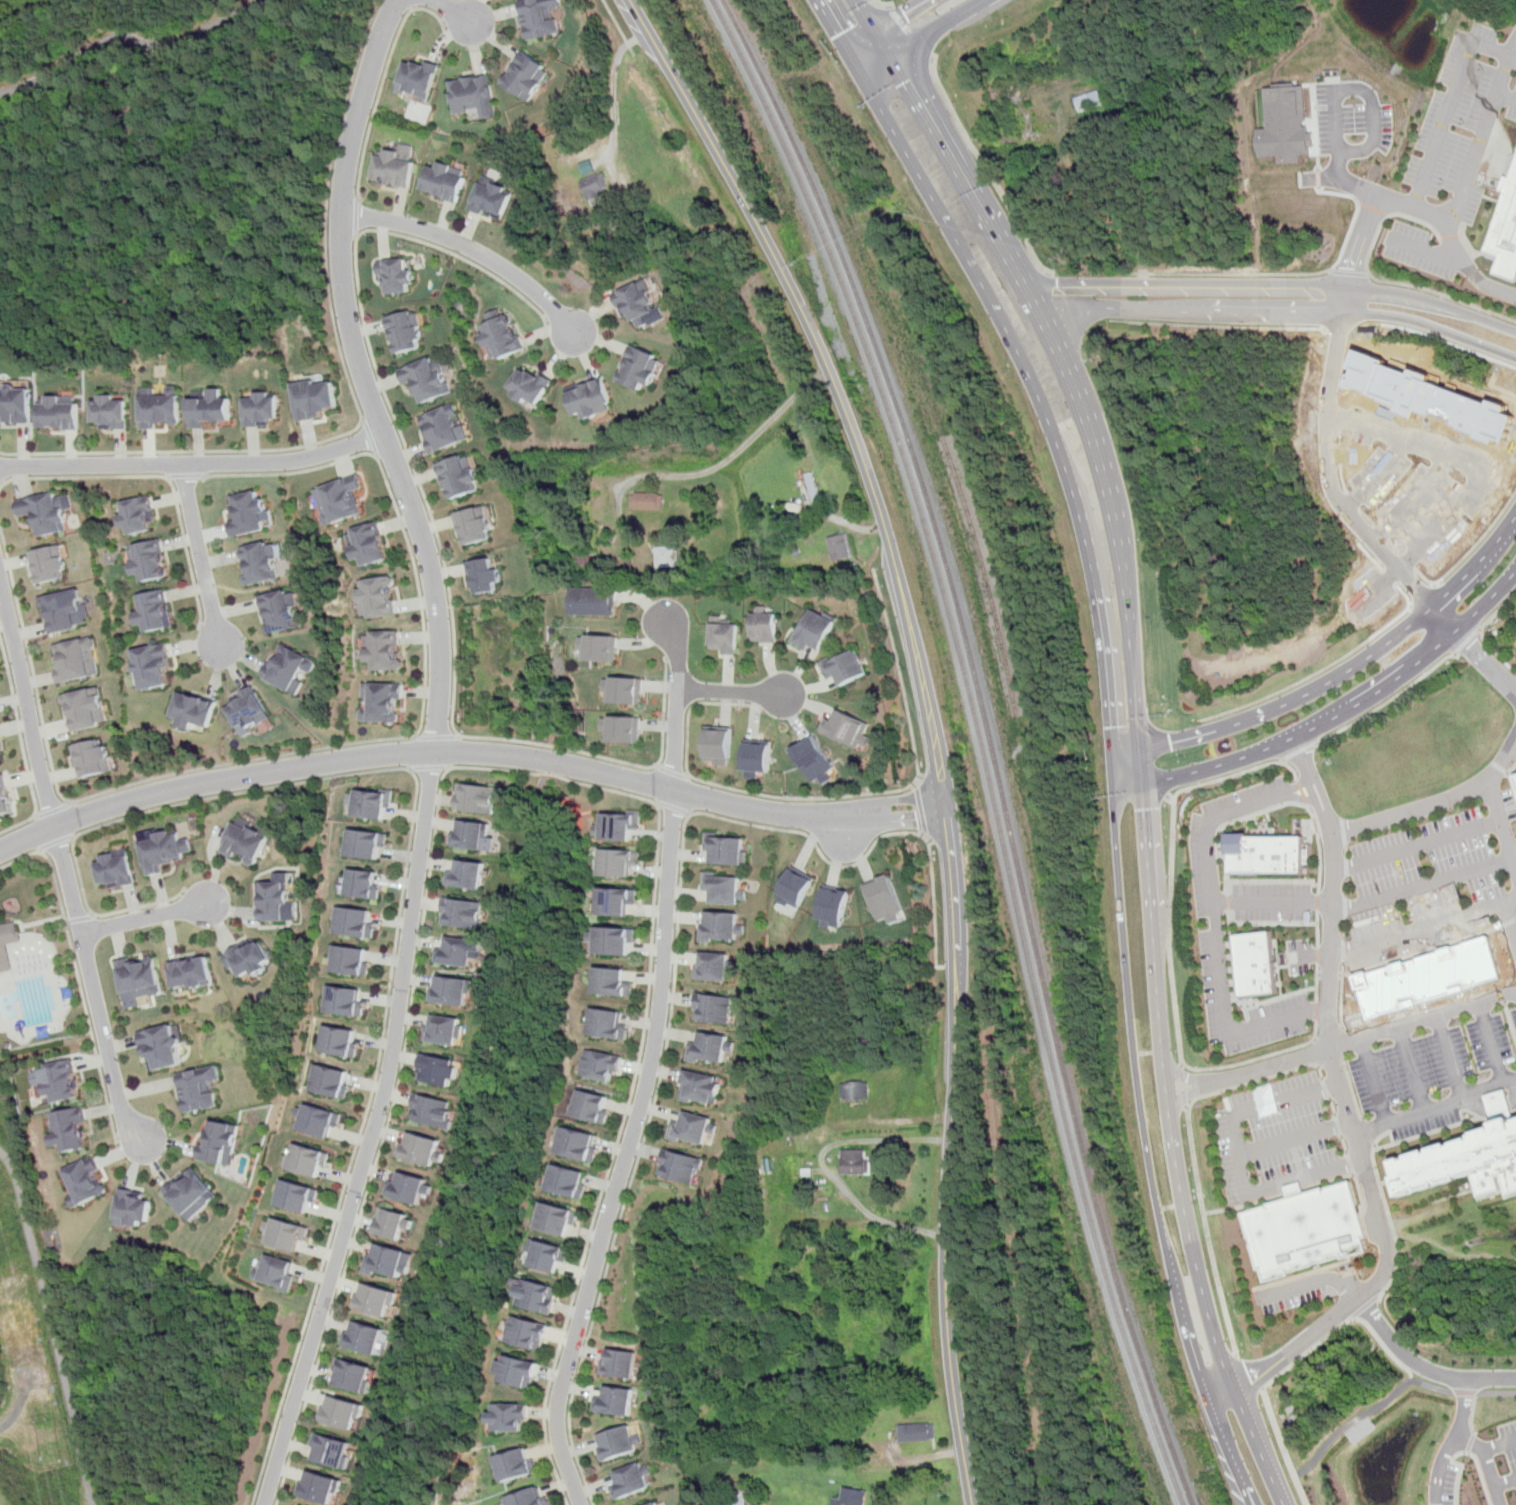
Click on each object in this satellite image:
road: (416, 4)
road: (880, 4)
road: (450, 11)
traffic signals: (904, 14)
road: (864, 15)
road: (900, 15)
building: (536, 18)
road: (618, 27)
road: (938, 28)
road: (836, 30)
road: (911, 33)
traffic signals: (839, 35)
road: (129, 37)
road: (881, 44)
road: (864, 45)
road: (1513, 47)
road: (1513, 52)
road: (871, 58)
road: (384, 73)
building: (519, 75)
building: (414, 78)
traffic signals: (904, 83)
road: (613, 91)
road: (1336, 94)
building: (470, 95)
road: (1449, 104)
parking lot: (1353, 120)
parking lot: (1464, 121)
building: (1285, 125)
building: (389, 168)
road: (986, 169)
road: (957, 173)
building: (439, 181)
building: (592, 183)
building: (486, 199)
road: (1458, 199)
road: (1355, 216)
road: (356, 217)
building: (1505, 231)
road: (1362, 238)
road: (1424, 249)
road: (473, 251)
parking lot: (1441, 260)
road: (1349, 273)
road: (1231, 274)
building: (394, 275)
road: (1192, 281)
road: (1383, 282)
road: (1032, 291)
road: (1433, 302)
building: (633, 305)
road: (1101, 307)
road: (1255, 310)
road: (1400, 326)
road: (1218, 327)
road: (1430, 327)
building: (404, 332)
building: (495, 339)
road: (1494, 356)
building: (634, 371)
building: (425, 380)
building: (525, 389)
road: (350, 390)
road: (1037, 396)
building: (312, 399)
building: (585, 400)
building: (16, 404)
building: (209, 409)
building: (159, 410)
building: (260, 410)
building: (111, 412)
building: (60, 414)
building: (442, 429)
road: (369, 436)
road: (393, 456)
road: (731, 459)
road: (192, 463)
road: (164, 464)
road: (290, 472)
building: (459, 475)
road: (159, 476)
road: (183, 476)
building: (812, 487)
building: (335, 500)
building: (645, 501)
road: (1113, 510)
building: (246, 514)
building: (40, 516)
building: (133, 516)
road: (433, 522)
building: (473, 527)
road: (1480, 539)
building: (839, 547)
building: (361, 548)
road: (198, 551)
building: (664, 556)
building: (141, 563)
building: (259, 564)
building: (48, 565)
building: (484, 574)
railway: (986, 576)
building: (376, 598)
building: (593, 603)
building: (63, 612)
building: (277, 612)
building: (147, 613)
road: (1449, 620)
building: (761, 628)
building: (810, 632)
road: (1482, 633)
building: (723, 640)
road: (1468, 641)
building: (599, 648)
building: (378, 653)
building: (75, 661)
road: (1488, 662)
road: (1349, 667)
road: (1415, 667)
building: (145, 668)
building: (843, 670)
building: (285, 671)
road: (900, 676)
road: (1296, 684)
building: (625, 690)
road: (733, 692)
road: (1388, 702)
building: (376, 705)
building: (86, 709)
building: (242, 713)
building: (188, 714)
road: (931, 721)
traffic signals: (1112, 727)
building: (623, 728)
building: (848, 729)
road: (436, 737)
railway: (981, 741)
railway: (991, 741)
traffic signals: (1170, 744)
building: (718, 746)
road: (25, 747)
road: (433, 750)
road: (469, 752)
road: (1300, 752)
road: (1300, 755)
building: (756, 757)
building: (0, 758)
building: (93, 758)
road: (1127, 758)
building: (815, 760)
road: (244, 761)
road: (1220, 764)
road: (1141, 765)
road: (429, 767)
road: (672, 772)
road: (1238, 773)
road: (535, 774)
road: (1307, 775)
road: (1128, 776)
building: (1515, 778)
road: (1296, 785)
road: (732, 789)
road: (1308, 789)
road: (1320, 791)
road: (1299, 796)
building: (5, 798)
building: (475, 798)
building: (375, 803)
road: (1434, 805)
road: (674, 807)
road: (54, 809)
road: (1268, 809)
road: (1316, 809)
traffic signals: (1144, 810)
road: (921, 811)
road: (1315, 825)
road: (1328, 826)
building: (625, 828)
road: (1503, 828)
building: (475, 836)
building: (251, 840)
road: (55, 842)
building: (369, 843)
road: (1419, 846)
building: (169, 850)
building: (722, 854)
building: (1265, 854)
road: (19, 858)
building: (625, 863)
road: (1320, 863)
road: (64, 866)
building: (122, 870)
building: (472, 875)
road: (403, 882)
parking lot: (1433, 883)
building: (367, 884)
building: (794, 887)
road: (1423, 887)
building: (720, 892)
building: (884, 899)
building: (280, 901)
road: (1318, 901)
road: (1274, 902)
building: (626, 903)
building: (833, 905)
building: (467, 914)
parking lot: (1273, 915)
road: (144, 918)
road: (1509, 918)
road: (79, 919)
building: (358, 922)
road: (1318, 927)
road: (1344, 929)
building: (716, 930)
road: (1419, 931)
road: (1170, 933)
road: (1217, 937)
building: (624, 941)
building: (9, 947)
road: (1343, 950)
road: (1419, 951)
building: (463, 952)
road: (1318, 954)
road: (1310, 955)
building: (256, 959)
building: (354, 960)
building: (1256, 964)
road: (674, 968)
building: (711, 971)
building: (197, 972)
road: (1328, 975)
building: (139, 978)
building: (1430, 979)
road: (1317, 981)
building: (619, 983)
building: (458, 992)
road: (1341, 995)
road: (83, 1002)
building: (350, 1003)
road: (1317, 1010)
building: (709, 1011)
building: (613, 1025)
building: (448, 1032)
road: (1363, 1040)
building: (343, 1042)
road: (1494, 1045)
building: (162, 1046)
building: (708, 1051)
road: (1258, 1057)
road: (1452, 1059)
building: (608, 1064)
parking lot: (1433, 1064)
road: (648, 1068)
building: (444, 1071)
road: (1413, 1071)
road: (1184, 1079)
road: (1257, 1081)
building: (66, 1082)
building: (333, 1082)
road: (1375, 1083)
road: (1182, 1086)
road: (1164, 1087)
building: (204, 1091)
building: (853, 1091)
building: (696, 1092)
road: (1187, 1096)
building: (598, 1108)
road: (1492, 1108)
road: (1435, 1109)
building: (436, 1112)
building: (324, 1122)
building: (74, 1132)
building: (689, 1133)
parking lot: (1273, 1136)
road: (1295, 1139)
road: (1147, 1143)
building: (227, 1145)
building: (584, 1145)
building: (421, 1148)
road: (1241, 1159)
building: (1467, 1159)
building: (310, 1163)
building: (854, 1164)
road: (1362, 1165)
road: (825, 1168)
building: (677, 1172)
building: (578, 1183)
building: (89, 1184)
building: (1295, 1189)
building: (415, 1190)
road: (1296, 1190)
building: (193, 1196)
building: (300, 1198)
building: (135, 1212)
building: (565, 1222)
building: (402, 1225)
building: (1306, 1230)
road: (1207, 1232)
building: (288, 1237)
road: (1449, 1249)
building: (557, 1260)
building: (394, 1264)
road: (1397, 1269)
building: (279, 1274)
road: (1313, 1281)
parking lot: (1299, 1291)
building: (544, 1299)
building: (376, 1300)
road: (1368, 1307)
road: (1343, 1325)
road: (51, 1326)
building: (535, 1334)
building: (371, 1341)
road: (1423, 1367)
building: (615, 1370)
building: (526, 1375)
road: (1246, 1376)
building: (359, 1378)
road: (1467, 1393)
road: (1498, 1393)
building: (609, 1404)
road: (16, 1413)
building: (344, 1413)
road: (1368, 1413)
road: (1474, 1413)
building: (514, 1420)
power tower: (43, 1422)
building: (916, 1435)
road: (1454, 1442)
parking lot: (1510, 1442)
road: (1261, 1443)
road: (1472, 1443)
building: (611, 1445)
road: (1500, 1446)
road: (1283, 1447)
building: (338, 1454)
road: (1464, 1454)
road: (1490, 1462)
building: (522, 1469)
parking lot: (1443, 1483)
building: (627, 1484)
road: (1506, 1484)
building: (321, 1488)
building: (742, 1494)
building: (851, 1498)
building: (537, 1500)
building: (655, 1503)

